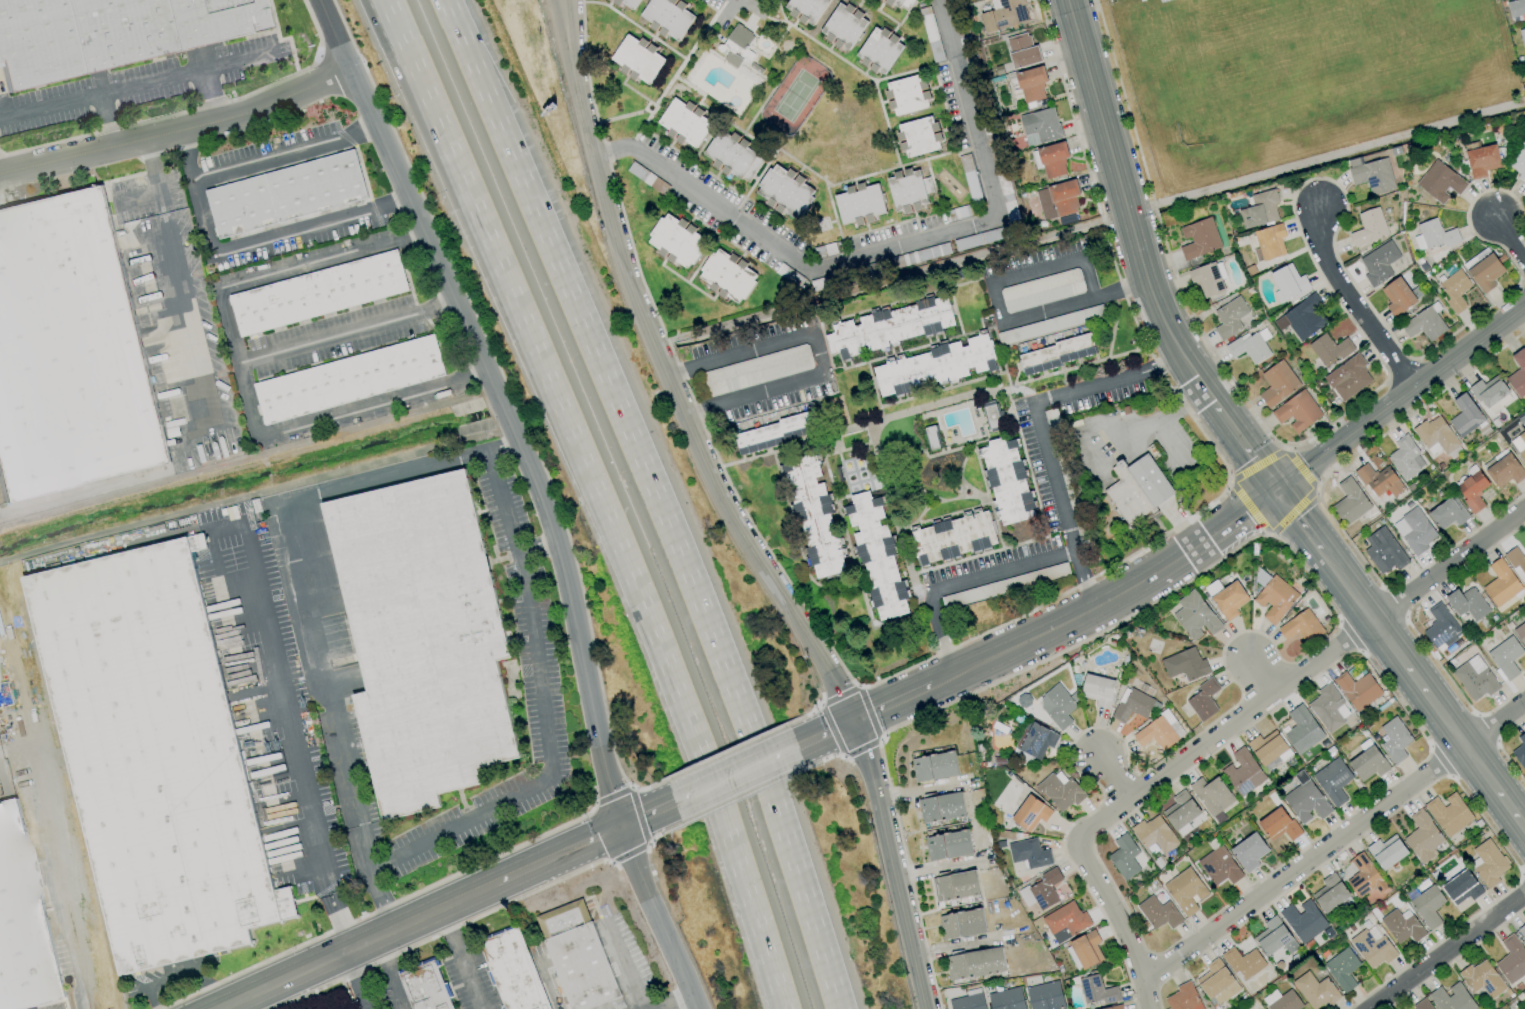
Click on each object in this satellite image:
road: (747, 1)
road: (609, 2)
road: (677, 2)
building: (896, 3)
building: (628, 4)
road: (882, 4)
road: (711, 5)
road: (857, 6)
building: (808, 8)
building: (1515, 8)
road: (766, 9)
road: (883, 11)
road: (783, 12)
building: (1004, 15)
road: (454, 16)
road: (456, 16)
road: (904, 16)
building: (667, 17)
road: (394, 18)
road: (397, 18)
road: (628, 18)
road: (799, 21)
building: (842, 25)
building: (107, 32)
road: (716, 32)
building: (739, 36)
building: (1522, 36)
road: (651, 38)
road: (832, 44)
road: (711, 48)
building: (877, 50)
building: (1022, 51)
road: (746, 54)
building: (636, 59)
road: (917, 67)
road: (866, 69)
road: (758, 74)
road: (670, 81)
road: (877, 81)
building: (1031, 84)
road: (136, 85)
road: (933, 87)
road: (635, 89)
park: (795, 94)
road: (208, 95)
building: (907, 95)
road: (885, 102)
road: (945, 106)
road: (698, 108)
road: (759, 108)
road: (105, 120)
building: (683, 123)
building: (1040, 126)
road: (642, 127)
road: (945, 128)
road: (178, 129)
road: (741, 135)
building: (919, 136)
road: (670, 139)
road: (896, 142)
road: (777, 152)
building: (733, 154)
road: (286, 157)
building: (1052, 160)
building: (1482, 160)
building: (1518, 161)
road: (717, 171)
road: (799, 171)
building: (1371, 172)
road: (933, 175)
road: (721, 180)
building: (1440, 182)
road: (754, 183)
road: (159, 184)
building: (784, 191)
building: (906, 191)
road: (196, 192)
building: (285, 194)
building: (1057, 199)
building: (855, 204)
building: (1259, 209)
road: (1124, 210)
road: (915, 211)
road: (865, 224)
road: (709, 227)
building: (1369, 227)
road: (313, 229)
road: (863, 231)
building: (1434, 235)
building: (1198, 239)
building: (1270, 241)
road: (1509, 241)
building: (673, 242)
road: (890, 246)
road: (710, 248)
road: (741, 257)
road: (321, 260)
building: (1378, 263)
building: (1485, 272)
road: (1522, 274)
building: (727, 275)
road: (1015, 276)
building: (1207, 279)
road: (986, 281)
road: (689, 283)
building: (1288, 283)
parking lot: (1051, 287)
building: (1041, 290)
building: (1455, 290)
building: (317, 293)
road: (946, 294)
road: (1114, 295)
building: (1397, 296)
road: (1349, 304)
road: (883, 308)
building: (1229, 317)
road: (1468, 321)
road: (996, 324)
building: (1423, 324)
road: (818, 330)
building: (885, 330)
road: (1113, 330)
road: (347, 334)
road: (928, 344)
road: (1468, 345)
building: (1249, 347)
building: (1329, 349)
building: (69, 350)
road: (819, 351)
building: (1056, 355)
road: (237, 361)
road: (831, 364)
road: (1398, 367)
building: (933, 369)
building: (757, 370)
road: (829, 373)
building: (1518, 373)
parking lot: (759, 374)
building: (1348, 378)
road: (1008, 379)
building: (348, 380)
building: (1277, 383)
building: (1489, 391)
road: (936, 392)
road: (372, 405)
road: (1419, 406)
building: (1296, 412)
road: (787, 415)
road: (1339, 415)
building: (1465, 415)
building: (993, 420)
road: (1161, 420)
road: (871, 431)
road: (1041, 432)
building: (777, 434)
building: (1435, 435)
building: (932, 440)
road: (1343, 440)
building: (1519, 444)
road: (502, 446)
road: (1285, 446)
road: (791, 447)
road: (822, 448)
road: (1021, 448)
road: (1177, 448)
road: (1244, 450)
road: (926, 455)
building: (1406, 458)
building: (1072, 461)
road: (1256, 465)
road: (1299, 468)
road: (412, 469)
building: (1505, 471)
road: (961, 476)
road: (981, 476)
building: (1379, 481)
road: (911, 484)
building: (1008, 485)
road: (1316, 488)
road: (860, 490)
building: (1137, 491)
building: (1472, 491)
road: (540, 492)
traffic signals: (1276, 494)
parking lot: (1040, 495)
road: (1302, 500)
building: (1350, 501)
road: (945, 502)
road: (1248, 508)
road: (732, 510)
flagpole: (1158, 513)
building: (1448, 513)
road: (943, 514)
road: (663, 515)
road: (608, 516)
building: (814, 519)
road: (1298, 521)
road: (1179, 524)
road: (1226, 524)
road: (1280, 524)
building: (1414, 531)
building: (952, 538)
road: (796, 541)
building: (1383, 551)
building: (876, 558)
road: (211, 560)
building: (1516, 562)
road: (960, 583)
building: (1500, 583)
road: (860, 587)
building: (990, 589)
building: (1275, 598)
building: (1228, 600)
building: (1467, 603)
building: (1524, 612)
building: (1194, 616)
road: (1061, 625)
building: (1441, 628)
building: (1301, 630)
building: (1520, 632)
building: (427, 636)
building: (1505, 657)
building: (1186, 664)
road: (320, 670)
road: (1262, 677)
building: (1475, 678)
building: (1, 683)
road: (1423, 686)
building: (1357, 689)
building: (1098, 690)
road: (898, 699)
building: (1204, 699)
building: (1057, 705)
building: (1131, 706)
building: (1328, 708)
road: (286, 709)
road: (541, 713)
road: (268, 723)
road: (1225, 729)
building: (1301, 729)
road: (827, 731)
building: (1157, 733)
building: (1394, 739)
building: (1036, 740)
road: (7, 746)
building: (1269, 749)
road: (783, 751)
building: (1520, 752)
building: (157, 756)
building: (1368, 763)
building: (933, 766)
road: (280, 767)
building: (1242, 772)
road: (730, 776)
road: (1111, 778)
building: (1333, 781)
road: (916, 791)
building: (1059, 791)
building: (1211, 795)
road: (683, 797)
building: (1305, 800)
road: (285, 802)
building: (941, 807)
road: (648, 813)
building: (1183, 813)
building: (1449, 813)
building: (1029, 814)
building: (1278, 824)
building: (1154, 834)
building: (1422, 837)
road: (1334, 842)
building: (947, 845)
road: (576, 846)
building: (1249, 851)
building: (1386, 852)
building: (1029, 853)
building: (1124, 857)
building: (1489, 863)
building: (1219, 866)
road: (937, 868)
road: (63, 870)
building: (1364, 877)
road: (372, 885)
building: (954, 886)
building: (1461, 887)
building: (1042, 890)
building: (1185, 891)
building: (1330, 893)
building: (1428, 906)
building: (1159, 913)
building: (1067, 920)
building: (1303, 920)
building: (22, 923)
road: (339, 923)
building: (962, 923)
building: (1402, 926)
building: (1522, 931)
building: (1274, 937)
road: (378, 938)
road: (950, 947)
building: (1372, 947)
road: (1445, 950)
building: (1085, 952)
building: (577, 957)
road: (462, 959)
building: (1511, 959)
building: (1243, 962)
building: (976, 965)
road: (623, 967)
building: (1342, 969)
building: (513, 972)
road: (386, 974)
road: (181, 976)
building: (1482, 979)
road: (355, 981)
building: (1217, 982)
building: (426, 987)
building: (1096, 990)
building: (1315, 990)
building: (1045, 996)
building: (1183, 997)
building: (1451, 998)
building: (1007, 999)
building: (969, 1000)
building: (1282, 1000)
road: (668, 1002)
building: (1421, 1004)
building: (1114, 1007)

